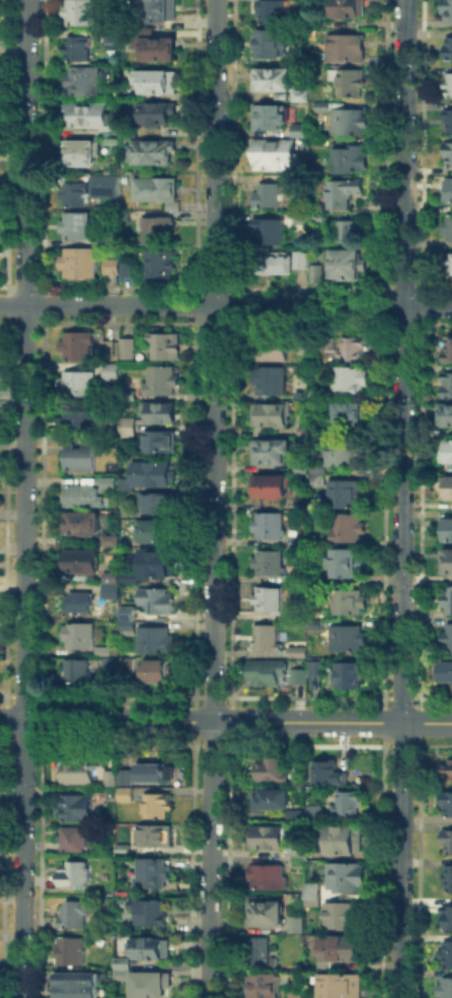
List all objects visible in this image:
building: (114, 1)
building: (350, 9)
building: (163, 11)
building: (448, 11)
building: (274, 13)
building: (82, 15)
building: (114, 43)
building: (275, 45)
building: (350, 49)
building: (81, 50)
building: (162, 50)
building: (450, 52)
building: (86, 83)
building: (161, 83)
building: (352, 83)
building: (282, 84)
building: (450, 87)
building: (159, 114)
building: (90, 117)
building: (273, 119)
building: (348, 120)
building: (450, 124)
building: (298, 129)
building: (128, 131)
building: (81, 154)
building: (153, 154)
building: (448, 155)
building: (278, 156)
building: (352, 160)
building: (106, 185)
building: (157, 191)
building: (449, 193)
building: (344, 194)
building: (272, 196)
building: (77, 197)
building: (312, 220)
building: (79, 227)
building: (450, 228)
building: (160, 231)
building: (271, 232)
building: (351, 233)
building: (111, 241)
building: (303, 260)
building: (76, 261)
building: (276, 263)
building: (110, 265)
building: (450, 265)
building: (347, 267)
building: (126, 268)
building: (160, 268)
building: (314, 272)
building: (321, 276)
road: (225, 306)
building: (305, 347)
building: (78, 348)
building: (121, 348)
building: (164, 348)
building: (270, 349)
building: (356, 349)
building: (449, 352)
building: (113, 373)
building: (162, 380)
building: (274, 380)
building: (352, 380)
building: (80, 385)
building: (448, 386)
building: (302, 391)
building: (321, 395)
building: (127, 396)
building: (353, 414)
building: (160, 415)
building: (447, 415)
building: (272, 416)
building: (79, 422)
building: (131, 426)
building: (162, 444)
building: (272, 453)
building: (450, 453)
building: (346, 455)
building: (81, 458)
building: (303, 469)
building: (150, 476)
building: (317, 481)
building: (109, 484)
building: (451, 487)
building: (271, 489)
building: (346, 496)
building: (83, 497)
road: (403, 498)
road: (24, 499)
road: (214, 499)
building: (159, 505)
building: (304, 505)
building: (82, 525)
building: (271, 526)
building: (349, 529)
building: (449, 532)
building: (159, 533)
building: (112, 541)
building: (299, 543)
building: (343, 562)
building: (83, 563)
building: (270, 564)
building: (447, 564)
building: (160, 565)
building: (112, 579)
building: (131, 579)
building: (113, 593)
building: (159, 602)
building: (271, 602)
building: (448, 602)
building: (80, 603)
building: (350, 603)
building: (130, 614)
building: (129, 629)
building: (85, 636)
building: (450, 639)
building: (270, 640)
building: (347, 640)
building: (156, 641)
building: (104, 651)
building: (299, 652)
building: (130, 663)
building: (108, 664)
building: (317, 671)
building: (79, 673)
building: (157, 673)
building: (445, 673)
building: (268, 675)
building: (349, 677)
building: (300, 678)
road: (226, 722)
building: (445, 767)
building: (76, 770)
building: (153, 771)
building: (276, 771)
building: (124, 775)
building: (330, 775)
building: (109, 776)
building: (110, 792)
building: (125, 792)
building: (275, 801)
building: (446, 801)
building: (156, 803)
building: (350, 804)
building: (74, 806)
building: (318, 812)
building: (299, 816)
building: (154, 834)
building: (72, 837)
building: (273, 838)
building: (342, 839)
building: (447, 839)
building: (123, 848)
building: (154, 871)
building: (75, 873)
building: (448, 876)
building: (350, 877)
building: (273, 878)
building: (124, 892)
building: (316, 896)
building: (152, 910)
building: (72, 913)
building: (269, 913)
building: (447, 915)
building: (349, 917)
building: (300, 925)
building: (152, 946)
building: (71, 949)
building: (341, 951)
building: (262, 952)
building: (447, 953)
building: (124, 962)
building: (124, 973)
building: (79, 983)
building: (152, 983)
building: (269, 986)
building: (345, 987)
building: (446, 987)
building: (301, 996)

